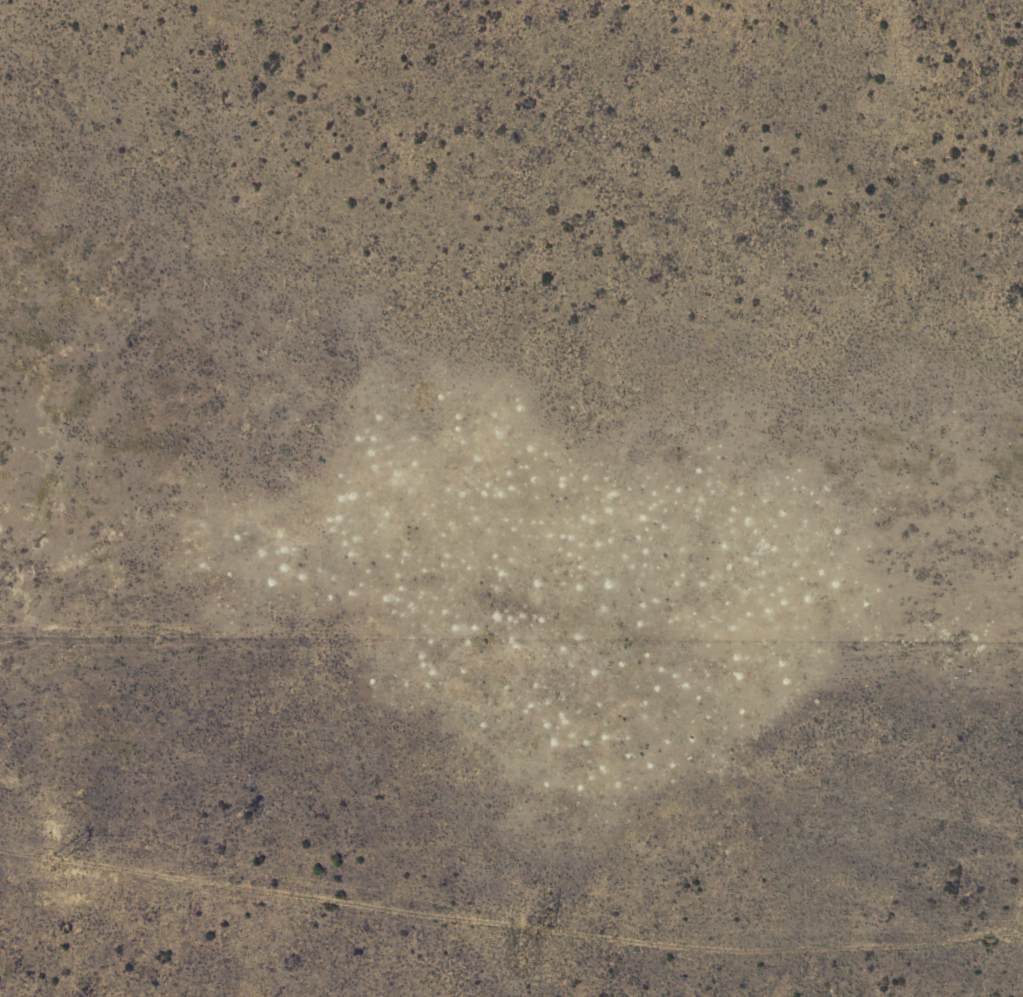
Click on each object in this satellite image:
power tower: (52, 861)
power tower: (522, 938)

